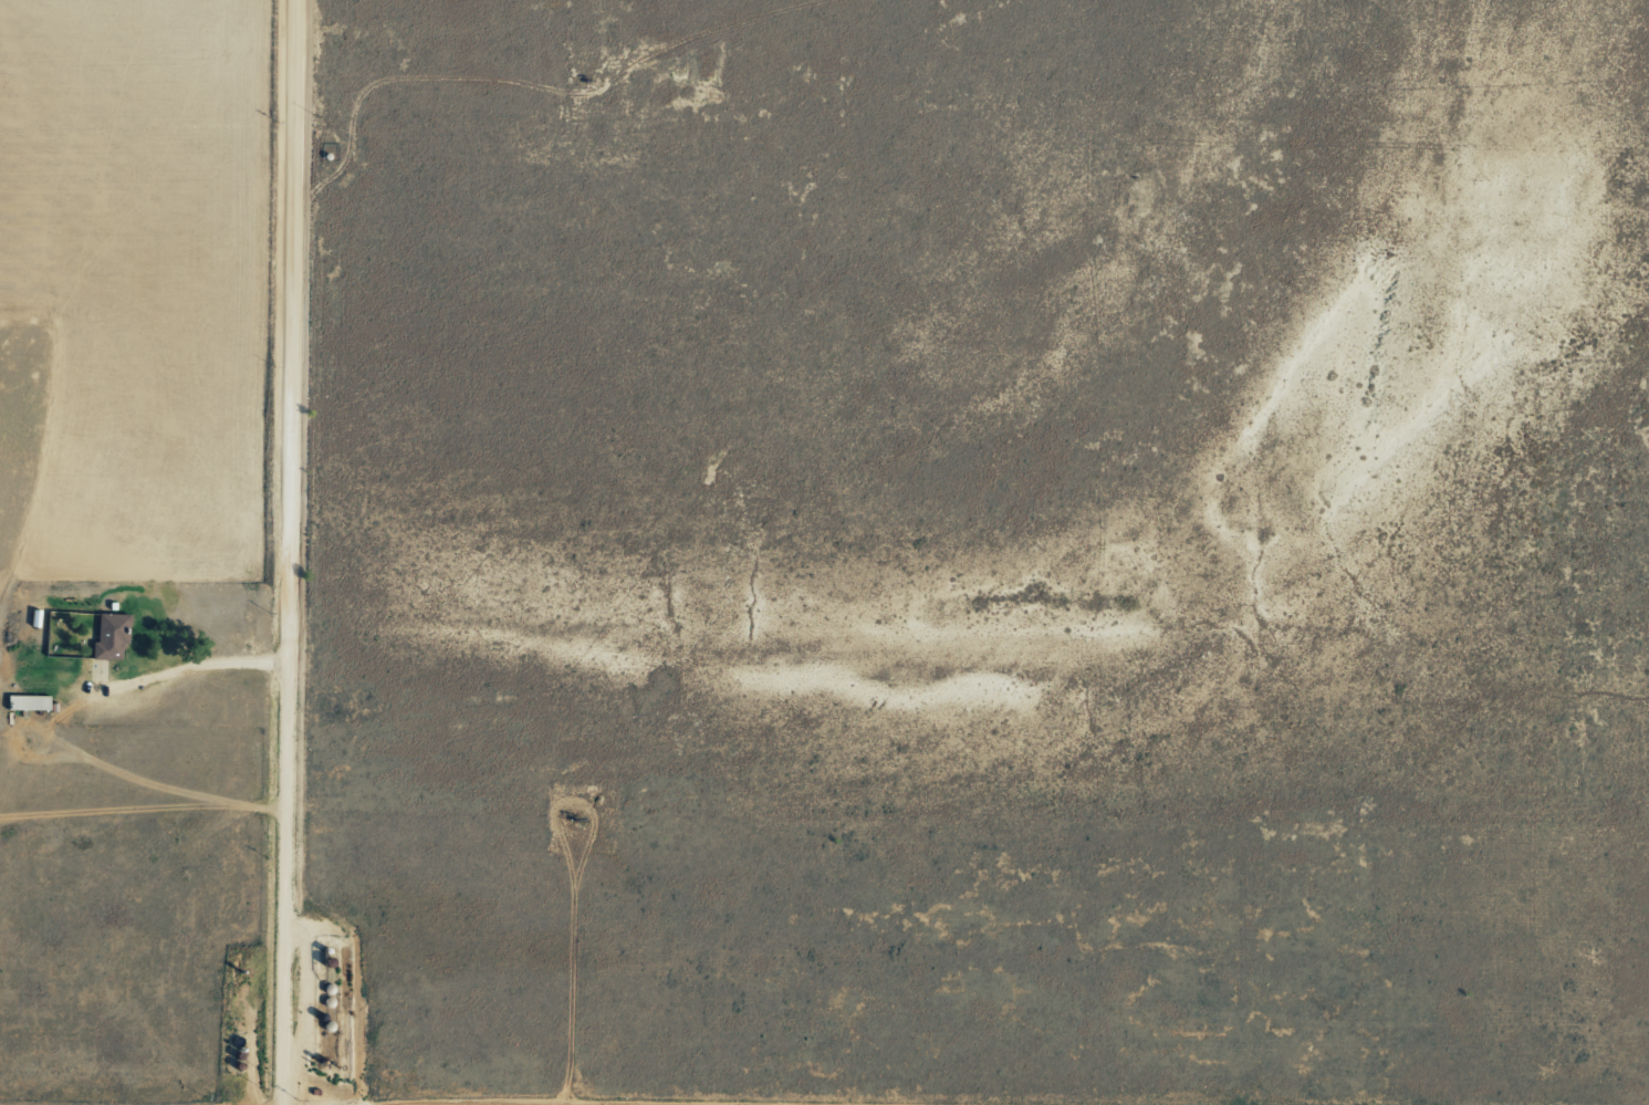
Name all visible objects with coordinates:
road: (298, 552)
road: (200, 674)
building: (27, 701)
petroleum well: (577, 824)

